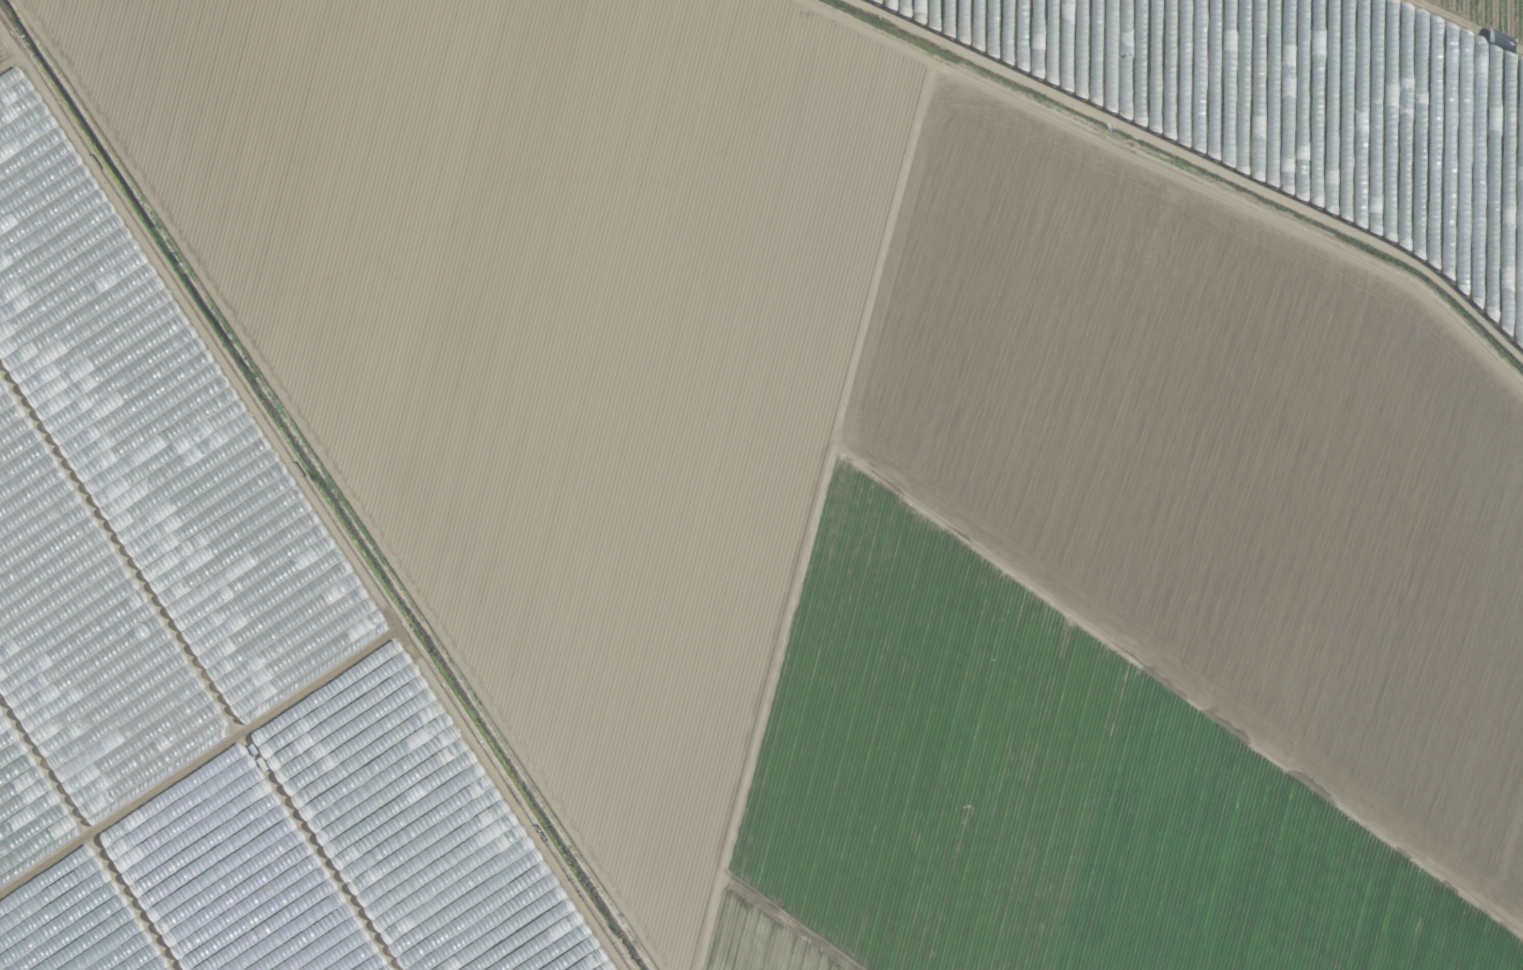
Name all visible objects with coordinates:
crop: (761, 485)

